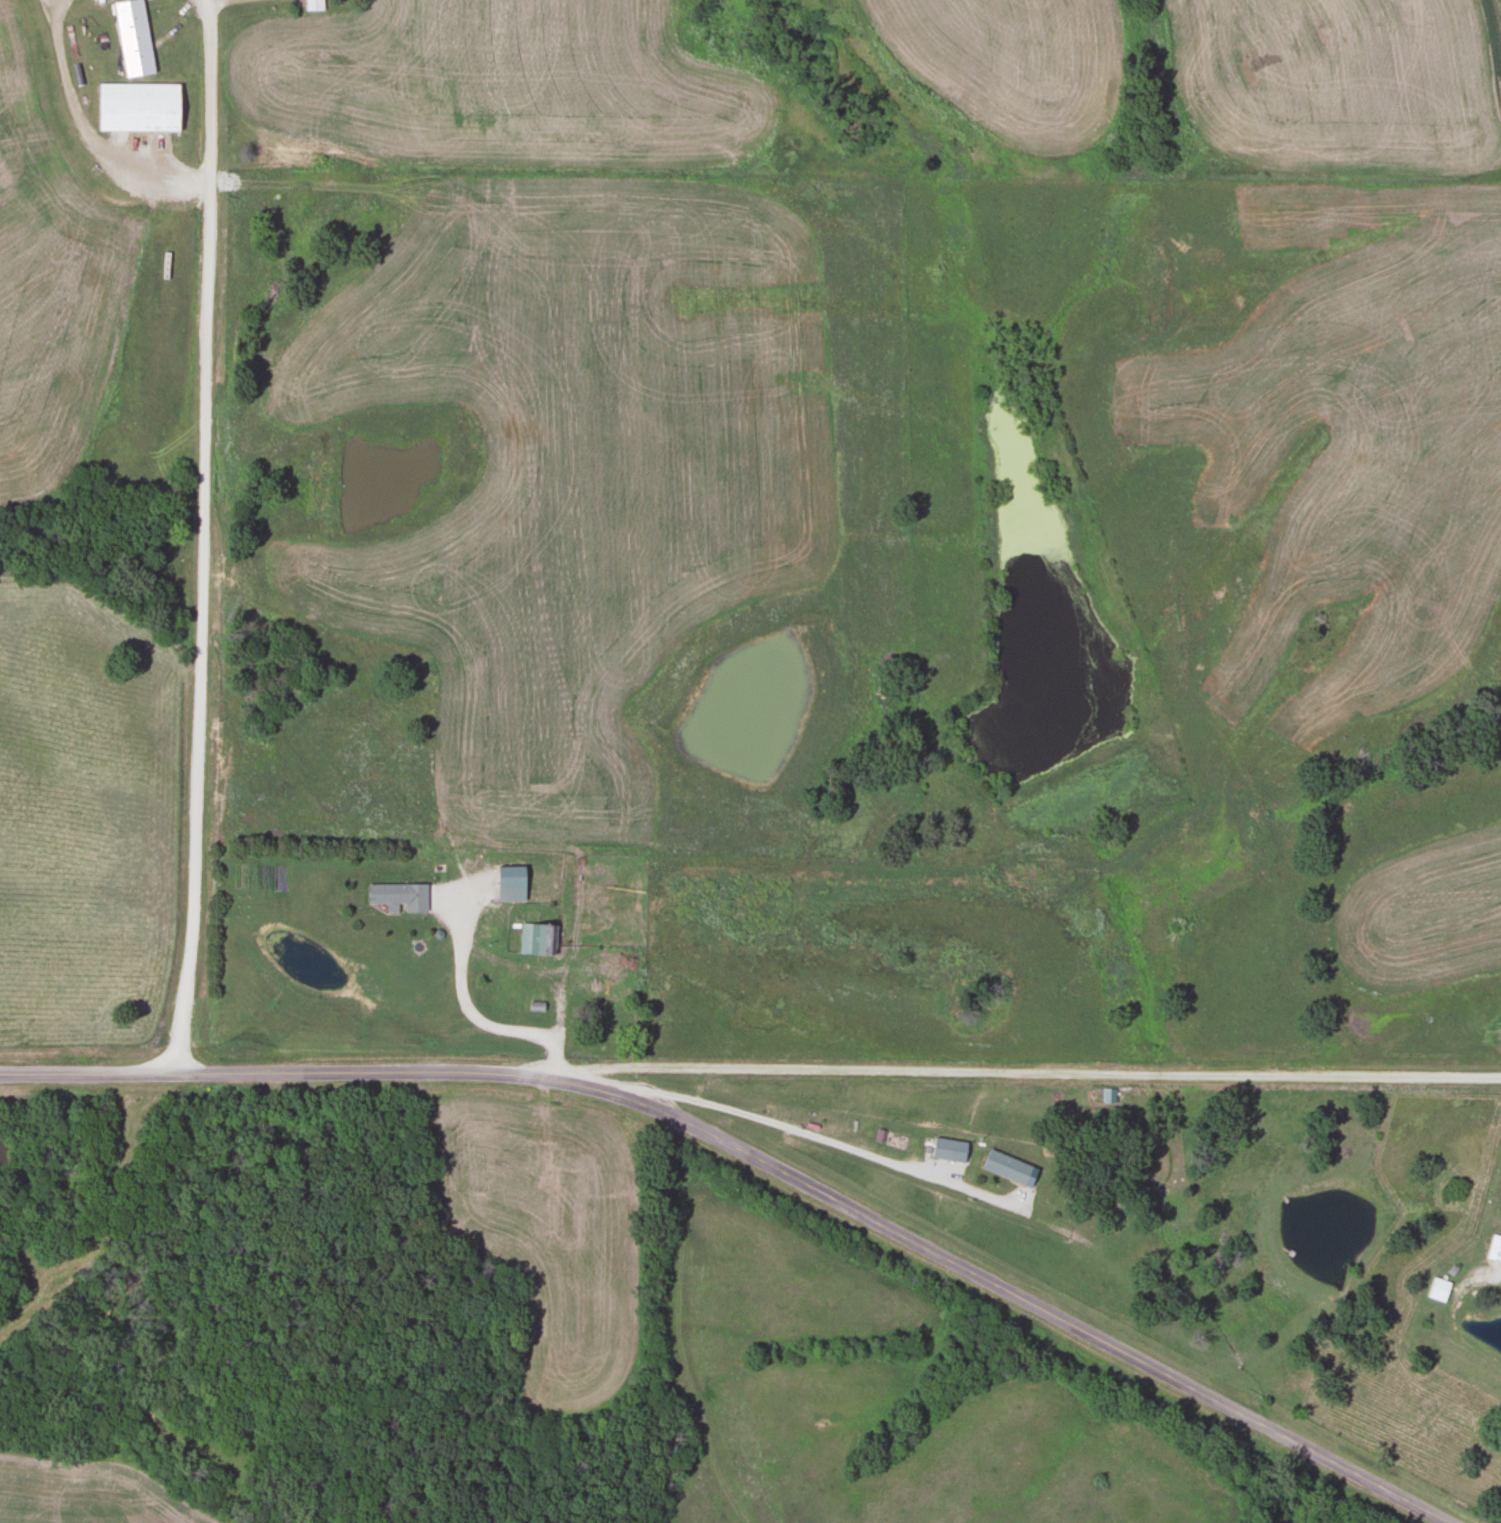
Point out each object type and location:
building: (313, 4)
building: (133, 37)
building: (137, 107)
road: (205, 538)
building: (509, 883)
building: (397, 896)
building: (536, 939)
road: (1037, 1075)
building: (947, 1150)
road: (763, 1161)
building: (1008, 1169)
building: (1494, 1249)
road: (1494, 1276)

